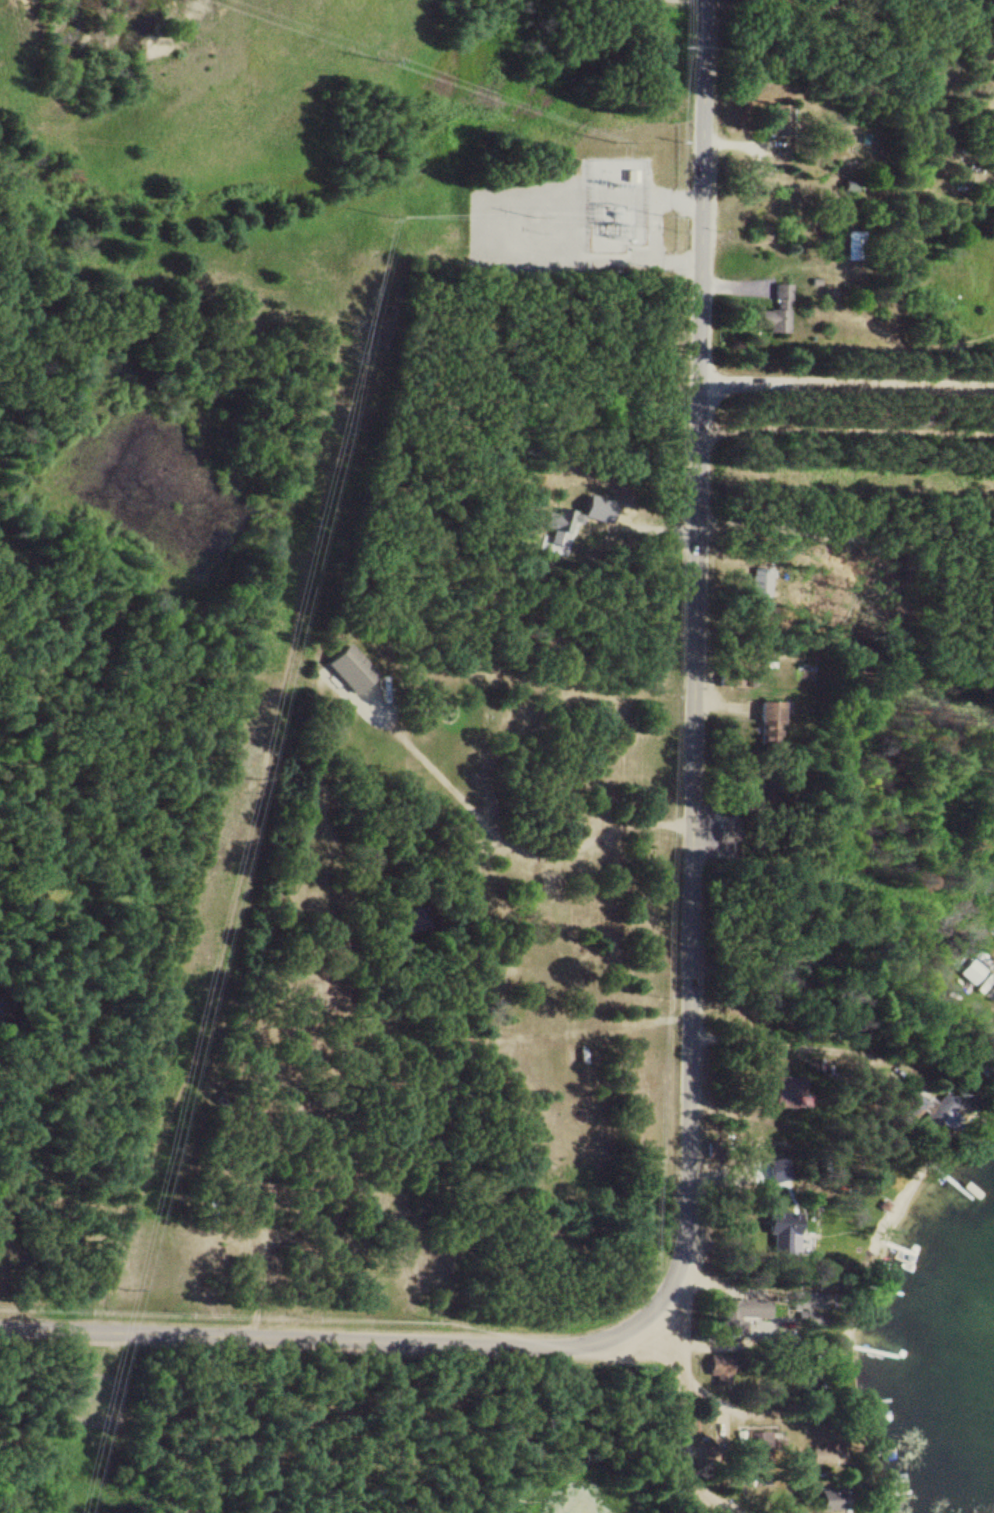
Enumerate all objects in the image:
quarry: (132, 55)
building: (781, 119)
power substation: (614, 204)
road: (655, 212)
building: (855, 243)
road: (515, 260)
building: (777, 312)
road: (846, 383)
building: (559, 527)
building: (358, 674)
building: (771, 723)
building: (728, 824)
building: (973, 970)
road: (691, 990)
building: (986, 1064)
building: (929, 1107)
building: (744, 1312)
road: (683, 1416)
building: (834, 1499)

